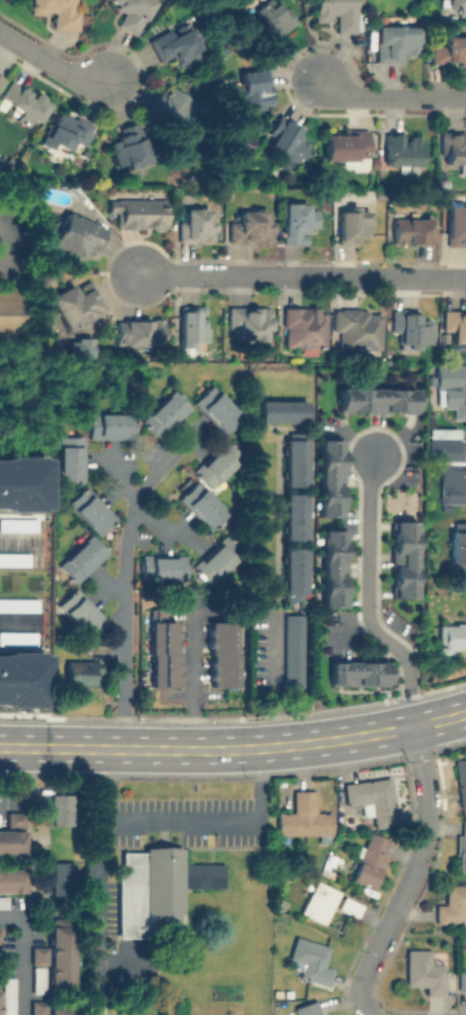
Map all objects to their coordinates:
building: (458, 6)
building: (59, 12)
building: (133, 14)
building: (336, 14)
building: (271, 25)
building: (395, 44)
building: (176, 47)
building: (451, 52)
street lamp: (61, 58)
road: (50, 63)
building: (1, 81)
building: (254, 90)
road: (391, 96)
street lamp: (125, 101)
building: (25, 103)
building: (172, 108)
building: (65, 134)
building: (289, 141)
building: (129, 147)
building: (347, 148)
building: (402, 150)
building: (453, 150)
building: (8, 165)
building: (137, 213)
building: (299, 222)
building: (199, 226)
building: (353, 226)
building: (456, 226)
building: (251, 228)
building: (413, 233)
building: (77, 237)
road: (300, 276)
building: (75, 304)
building: (11, 319)
building: (250, 322)
building: (192, 328)
building: (455, 328)
building: (358, 329)
building: (412, 329)
building: (305, 331)
building: (140, 333)
building: (80, 349)
building: (451, 388)
building: (376, 401)
building: (215, 410)
building: (281, 412)
building: (164, 413)
building: (109, 425)
building: (444, 430)
building: (445, 450)
building: (68, 458)
building: (294, 462)
building: (215, 464)
road: (115, 476)
building: (328, 478)
building: (453, 483)
building: (22, 485)
building: (201, 507)
building: (90, 511)
building: (294, 516)
road: (166, 528)
building: (458, 546)
road: (19, 548)
building: (81, 558)
building: (214, 559)
building: (402, 559)
building: (161, 567)
building: (331, 568)
building: (294, 570)
road: (124, 571)
road: (367, 597)
building: (80, 612)
road: (18, 625)
building: (236, 637)
building: (451, 638)
building: (293, 650)
building: (161, 653)
building: (220, 653)
building: (356, 673)
building: (81, 674)
building: (21, 681)
road: (190, 684)
road: (270, 685)
road: (234, 749)
building: (461, 780)
building: (373, 801)
road: (10, 803)
building: (62, 808)
road: (40, 817)
building: (304, 817)
building: (14, 819)
road: (182, 821)
building: (12, 843)
building: (462, 848)
building: (369, 860)
road: (414, 876)
building: (63, 878)
building: (280, 878)
building: (11, 880)
building: (158, 891)
building: (329, 903)
building: (3, 905)
building: (453, 906)
road: (98, 913)
road: (22, 957)
building: (56, 957)
building: (312, 959)
building: (425, 970)
building: (462, 980)
building: (37, 982)
building: (8, 995)
building: (309, 1008)
building: (47, 1009)

